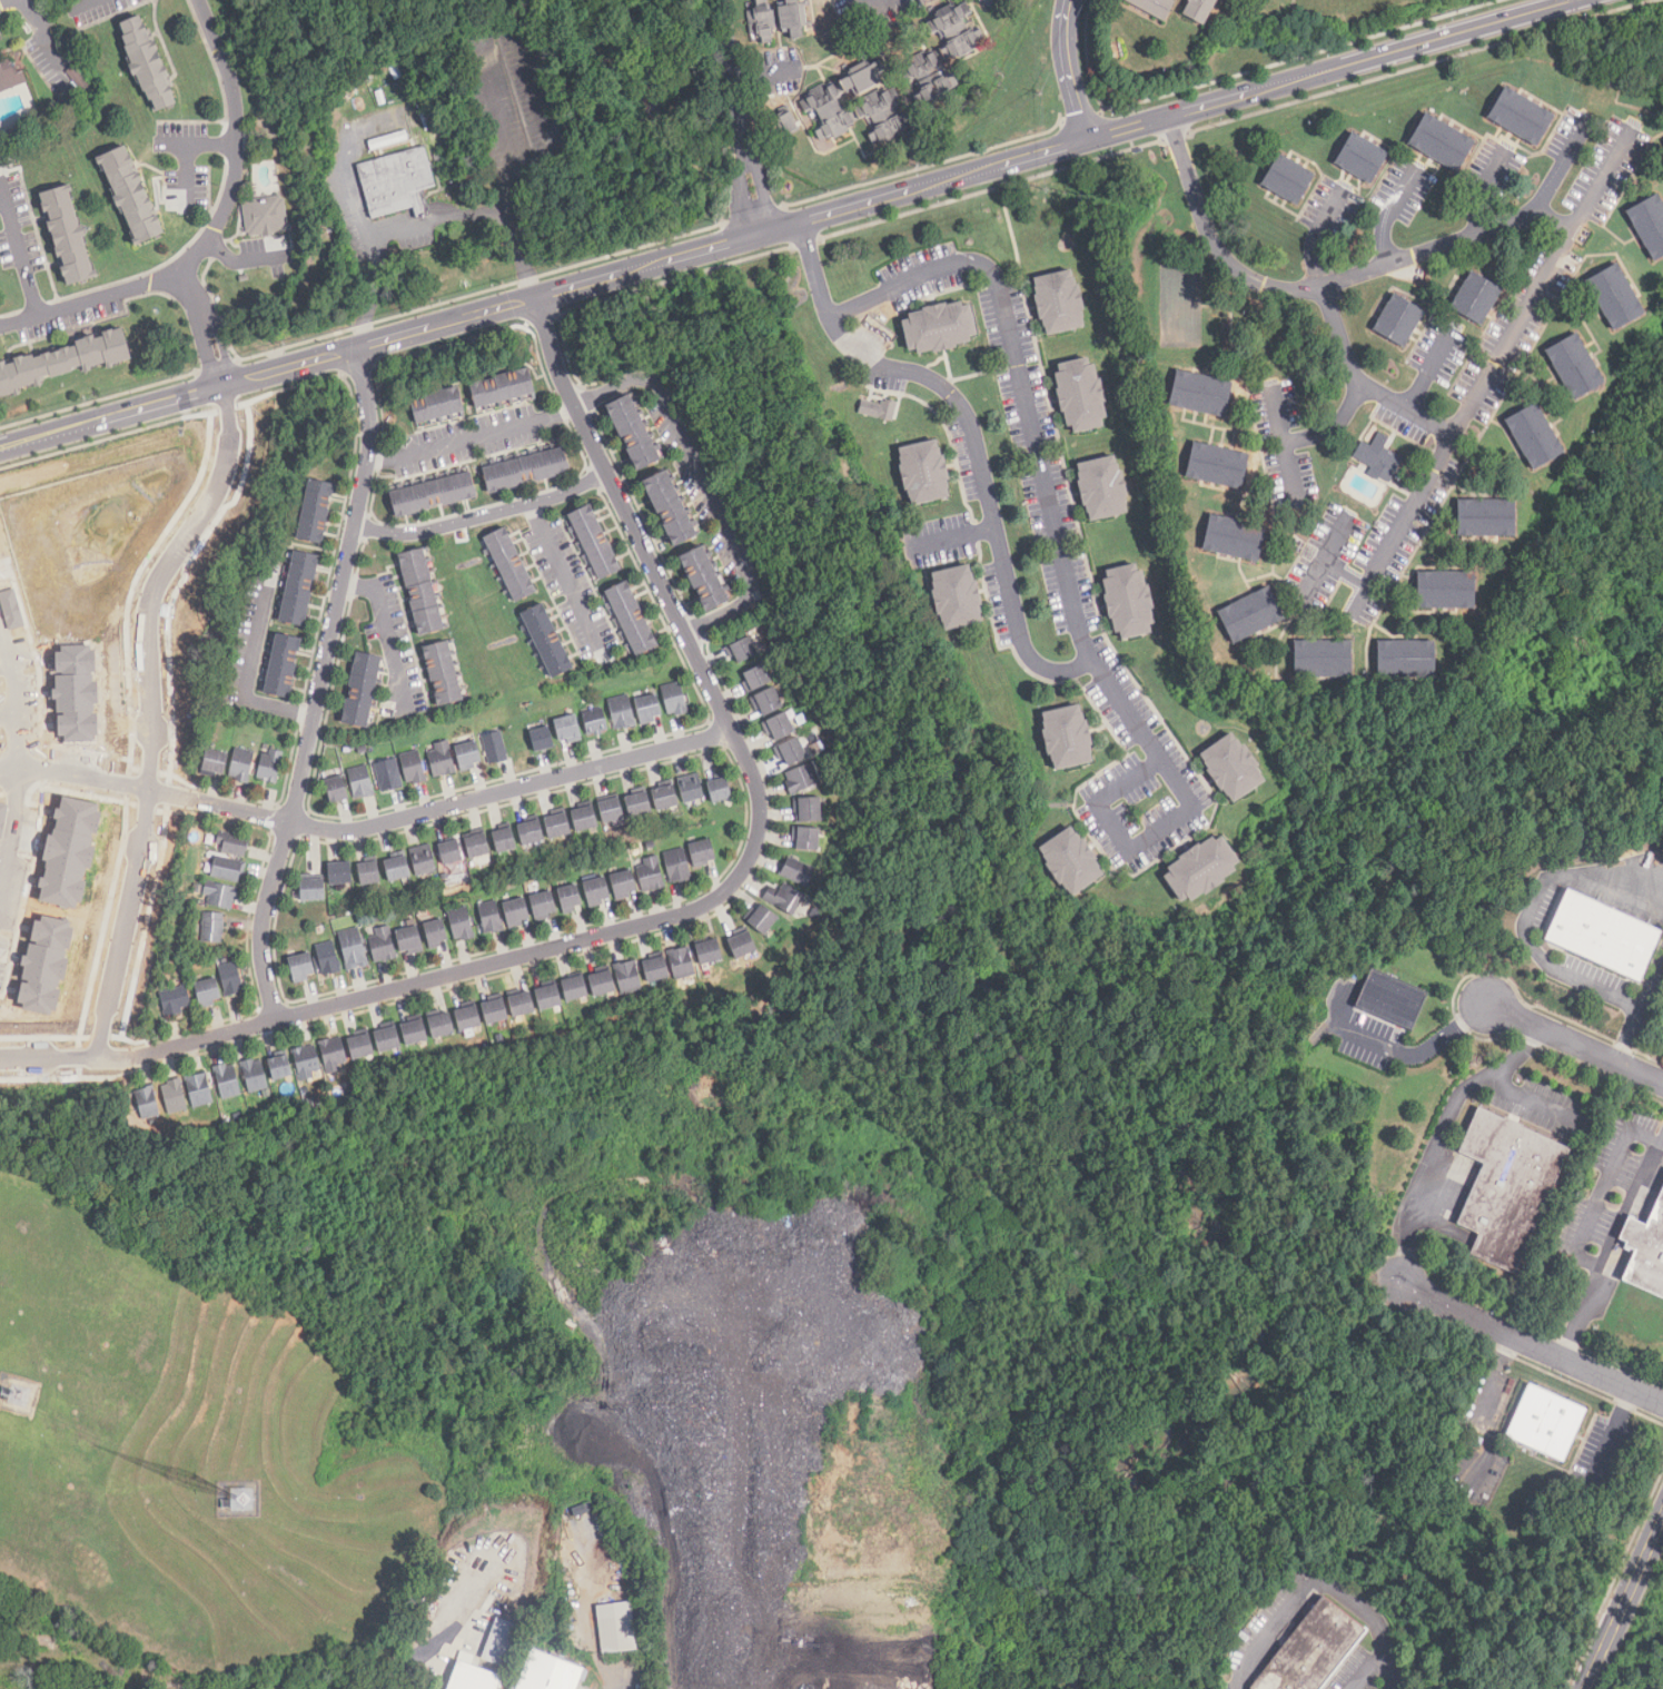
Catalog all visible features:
road: (4, 2)
road: (82, 2)
building: (992, 2)
building: (1154, 8)
building: (1199, 10)
building: (793, 19)
building: (762, 22)
road: (515, 26)
road: (1461, 32)
building: (942, 56)
building: (145, 65)
road: (1068, 71)
building: (7, 73)
building: (851, 107)
road: (742, 118)
building: (1521, 118)
building: (388, 141)
road: (200, 144)
building: (1442, 144)
building: (1362, 159)
road: (187, 162)
building: (1287, 180)
building: (398, 185)
road: (507, 186)
building: (129, 194)
building: (265, 218)
road: (1385, 221)
building: (1650, 225)
road: (217, 233)
building: (69, 234)
road: (386, 235)
road: (1506, 236)
road: (1316, 241)
road: (518, 254)
road: (19, 256)
road: (671, 259)
road: (1297, 292)
building: (1615, 298)
building: (1476, 299)
building: (1057, 304)
building: (1399, 322)
building: (940, 329)
building: (62, 357)
building: (1575, 367)
road: (1426, 374)
building: (504, 388)
building: (1200, 395)
building: (1079, 396)
building: (439, 408)
building: (878, 411)
road: (1471, 414)
building: (635, 434)
road: (1308, 434)
road: (972, 437)
building: (1534, 437)
road: (473, 439)
building: (1378, 457)
road: (1288, 465)
building: (1217, 466)
building: (527, 471)
building: (922, 473)
road: (704, 477)
building: (1100, 488)
building: (434, 495)
road: (1047, 498)
building: (673, 508)
building: (313, 514)
road: (485, 515)
building: (1486, 518)
building: (1234, 540)
building: (596, 543)
building: (512, 565)
road: (562, 571)
building: (707, 580)
building: (420, 590)
building: (298, 591)
building: (1446, 592)
building: (958, 599)
building: (1125, 601)
building: (1250, 616)
building: (633, 619)
road: (379, 633)
building: (548, 642)
building: (744, 651)
road: (146, 652)
building: (1323, 660)
building: (1406, 661)
building: (281, 663)
building: (437, 669)
building: (759, 679)
road: (247, 683)
building: (357, 687)
road: (325, 688)
building: (674, 698)
building: (770, 702)
building: (646, 707)
building: (622, 712)
building: (595, 722)
building: (782, 727)
building: (567, 728)
building: (540, 738)
building: (1063, 738)
building: (493, 745)
building: (794, 752)
building: (465, 753)
building: (439, 757)
building: (214, 762)
building: (409, 764)
building: (1234, 764)
road: (31, 766)
road: (75, 766)
building: (240, 766)
building: (268, 768)
building: (385, 772)
building: (357, 778)
building: (804, 779)
building: (331, 786)
building: (717, 788)
building: (690, 790)
building: (665, 798)
road: (1100, 798)
building: (639, 804)
road: (446, 808)
building: (809, 810)
building: (613, 812)
building: (2, 817)
building: (585, 820)
building: (558, 827)
building: (531, 832)
building: (504, 840)
building: (809, 840)
building: (232, 844)
building: (477, 846)
building: (448, 850)
building: (68, 851)
building: (701, 851)
building: (422, 859)
building: (1076, 860)
building: (675, 863)
building: (394, 865)
building: (1200, 868)
building: (225, 869)
building: (335, 870)
building: (364, 870)
building: (796, 872)
building: (650, 873)
building: (622, 881)
building: (307, 887)
building: (596, 889)
building: (219, 892)
building: (568, 896)
building: (786, 900)
building: (543, 903)
building: (515, 909)
road: (684, 909)
building: (489, 915)
road: (1530, 918)
building: (761, 920)
building: (459, 922)
building: (212, 927)
building: (433, 931)
building: (406, 937)
building: (1603, 937)
building: (379, 942)
building: (348, 946)
building: (742, 946)
building: (709, 952)
building: (324, 956)
building: (682, 964)
building: (43, 965)
building: (297, 965)
building: (656, 970)
building: (229, 978)
building: (630, 978)
road: (1651, 982)
building: (602, 984)
building: (575, 989)
building: (205, 991)
building: (548, 998)
building: (174, 1000)
building: (1390, 1000)
building: (522, 1005)
building: (495, 1011)
building: (467, 1019)
building: (441, 1026)
building: (414, 1034)
road: (1627, 1036)
building: (387, 1039)
road: (1575, 1044)
building: (362, 1047)
building: (334, 1054)
road: (1396, 1054)
building: (304, 1061)
building: (278, 1067)
building: (253, 1074)
building: (226, 1080)
building: (198, 1089)
building: (174, 1095)
building: (146, 1102)
road: (1453, 1103)
building: (1507, 1186)
road: (1626, 1201)
road: (1580, 1231)
building: (1646, 1251)
road: (1530, 1344)
building: (1545, 1423)
building: (1474, 1440)
road: (1304, 1590)
road: (1623, 1601)
building: (616, 1628)
building: (46, 1642)
building: (502, 1644)
building: (1311, 1650)
road: (1367, 1667)
road: (1387, 1667)
building: (550, 1673)
building: (473, 1679)
road: (614, 1679)
building: (335, 1683)

